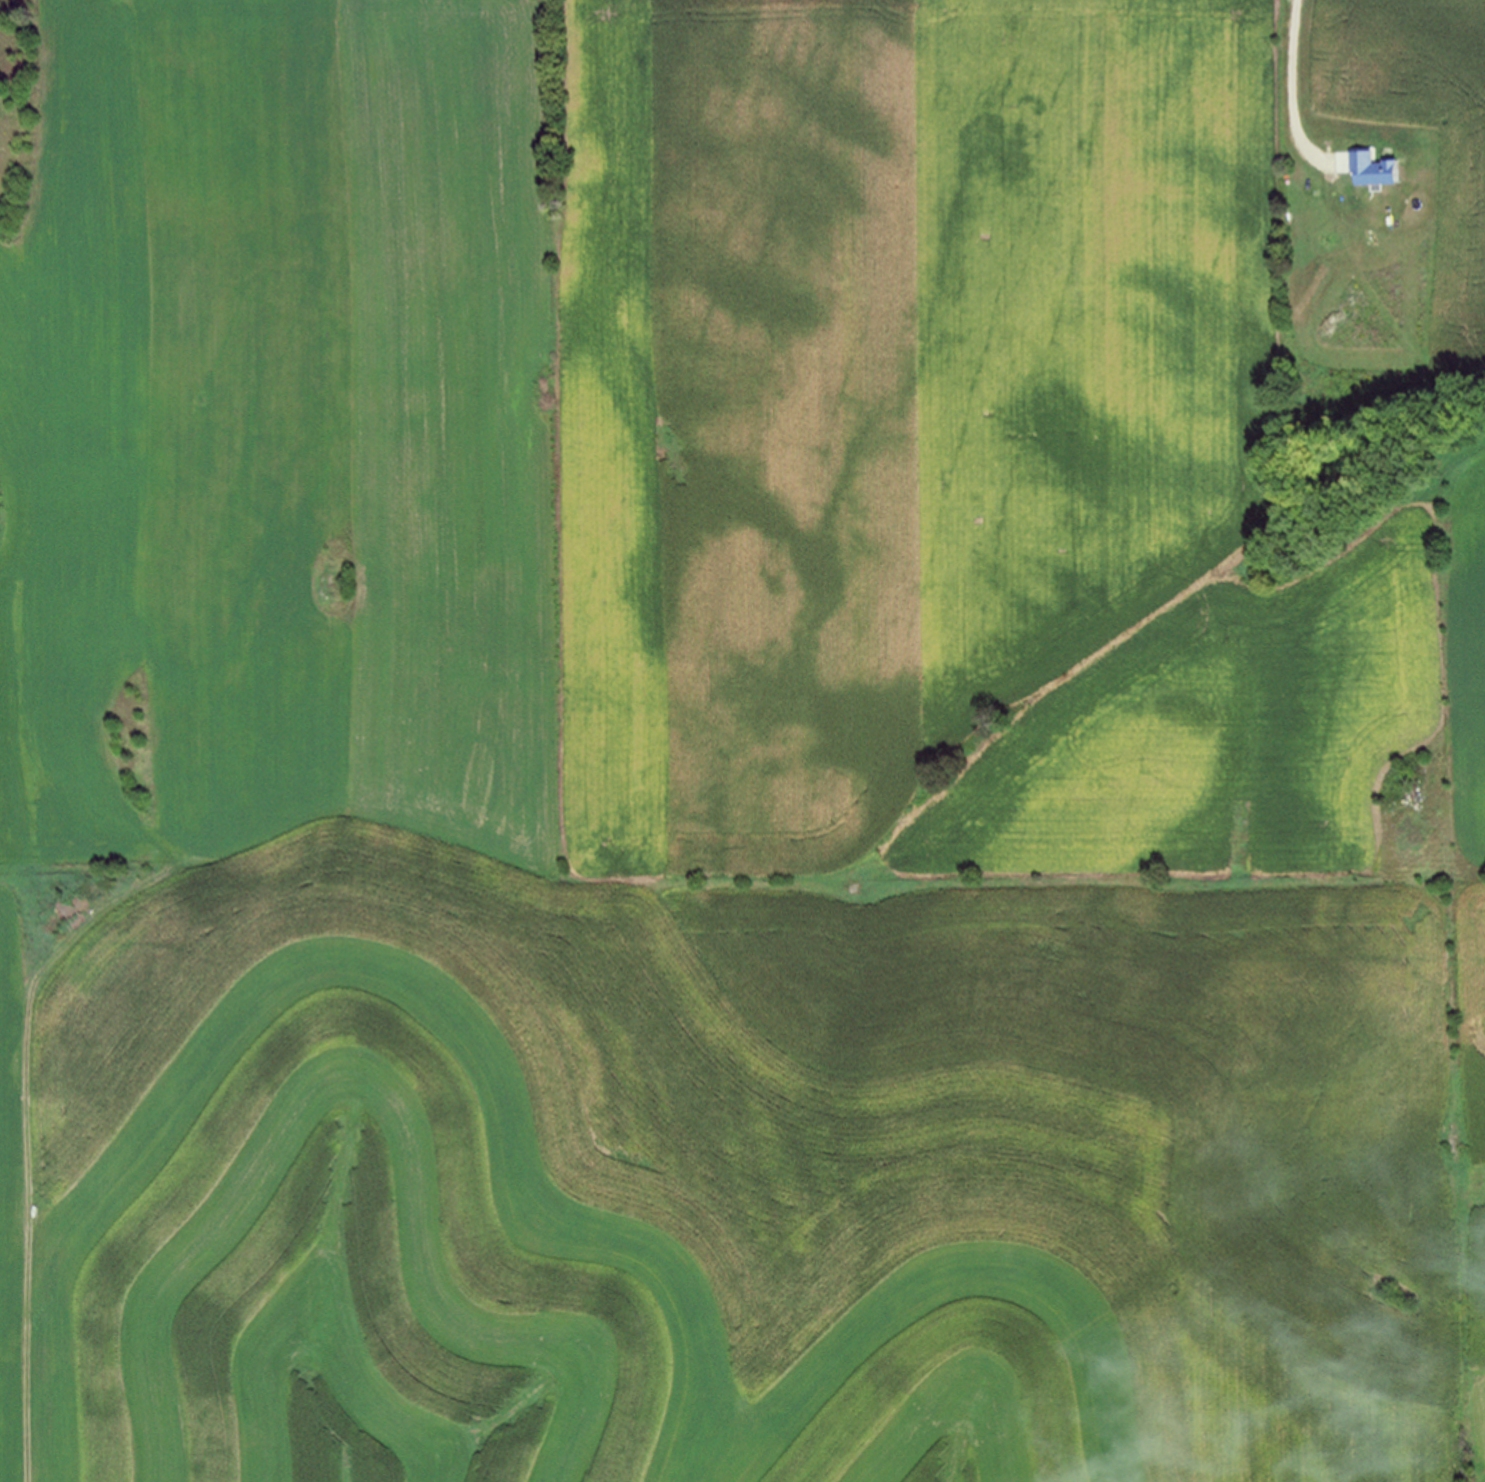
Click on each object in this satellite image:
road: (1284, 92)
quarry: (9, 785)
road: (86, 910)

